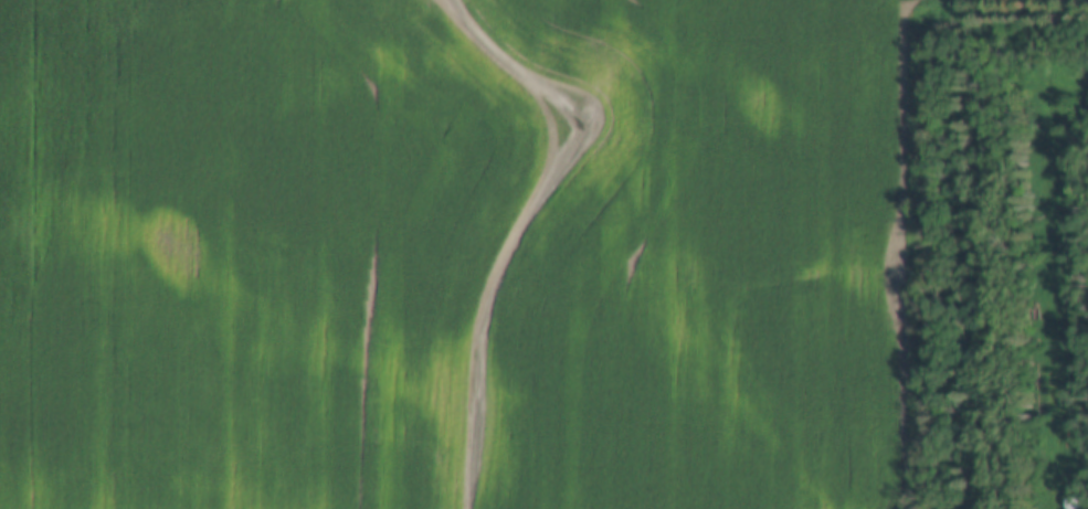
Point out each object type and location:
building: (1074, 502)

